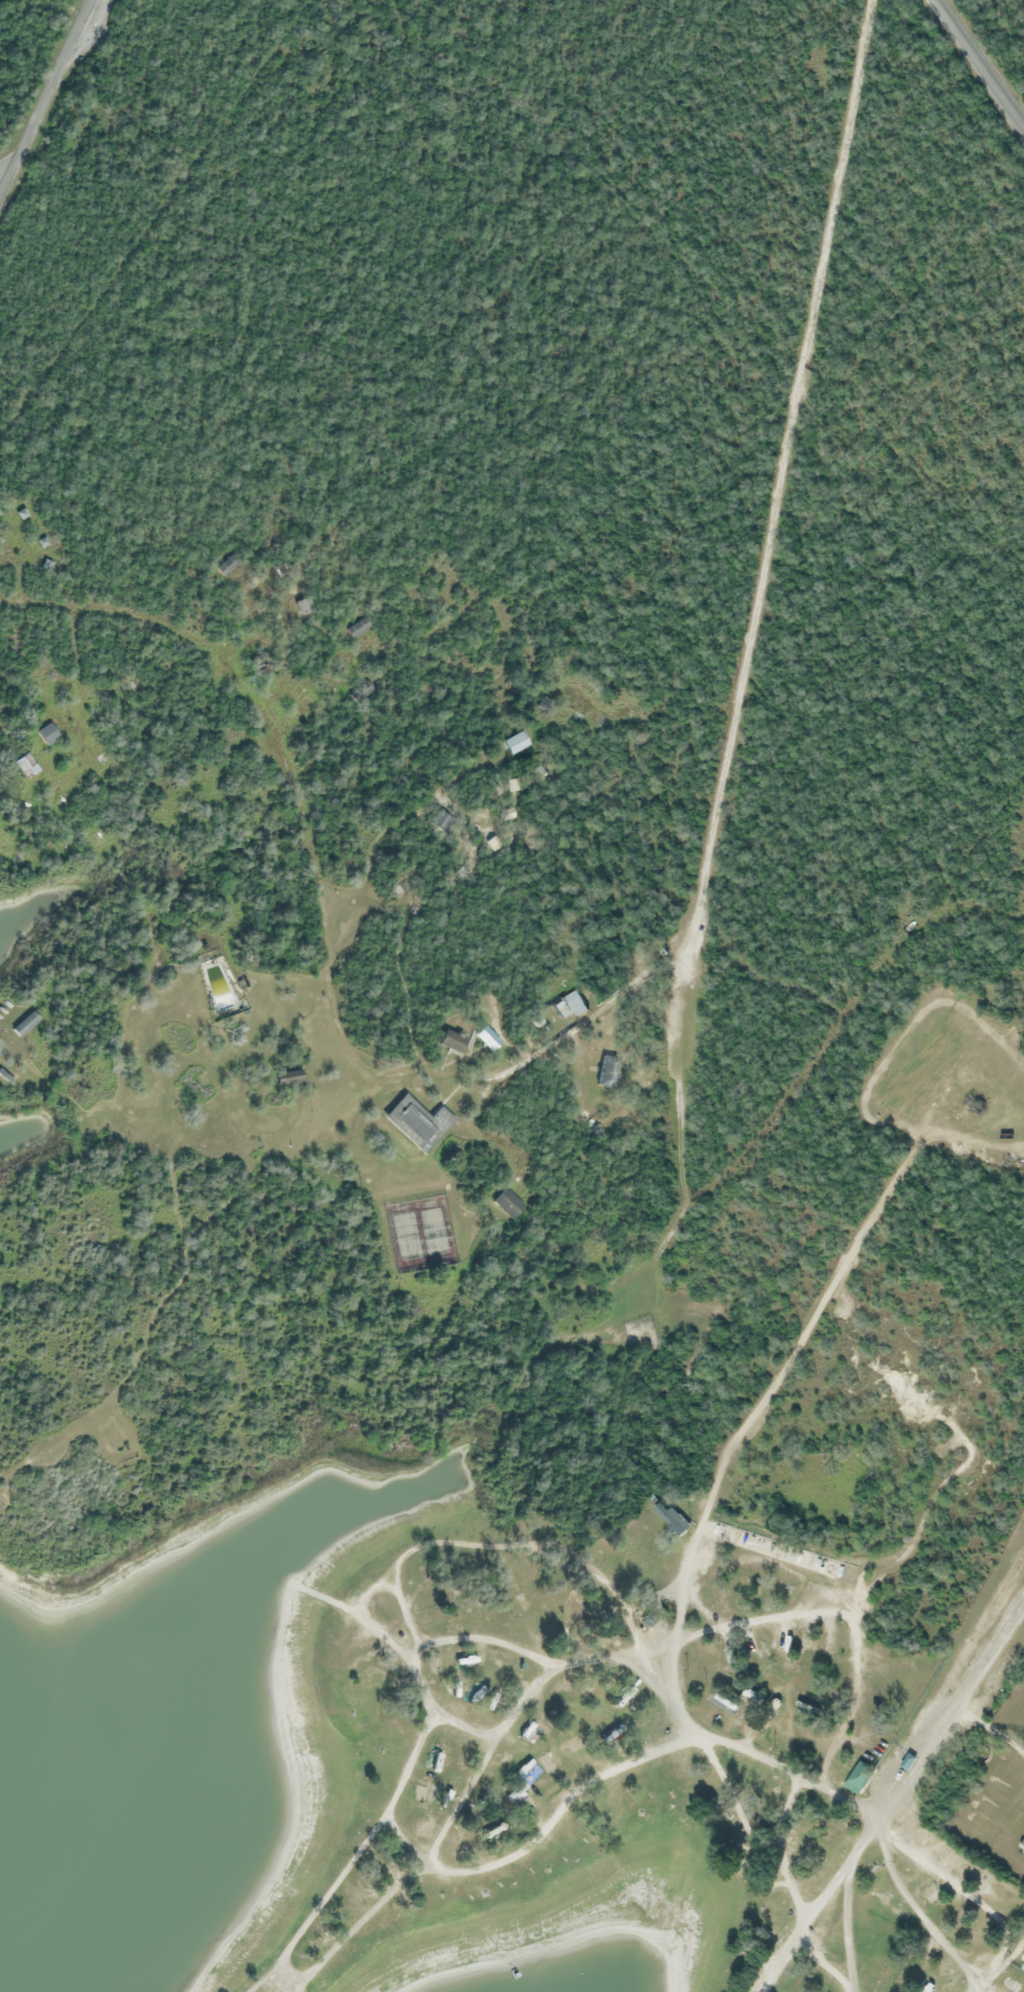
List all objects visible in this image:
road: (89, 32)
road: (980, 63)
road: (44, 95)
park: (102, 148)
road: (3, 175)
park: (818, 183)
road: (777, 480)
building: (301, 608)
building: (354, 629)
building: (44, 735)
building: (512, 743)
building: (23, 766)
park: (995, 886)
road: (322, 939)
building: (217, 984)
building: (568, 1006)
building: (22, 1024)
building: (484, 1039)
building: (449, 1041)
building: (604, 1072)
road: (675, 1079)
building: (284, 1080)
building: (414, 1123)
building: (504, 1203)
building: (670, 1518)
road: (527, 1543)
road: (359, 1593)
building: (549, 1602)
building: (462, 1611)
road: (815, 1615)
road: (424, 1645)
building: (435, 1662)
building: (620, 1697)
road: (952, 1704)
road: (742, 1749)
building: (858, 1778)
building: (989, 1780)
road: (575, 1791)
building: (517, 1793)
building: (976, 1826)
building: (489, 1833)
building: (1021, 1847)
road: (776, 1849)
road: (845, 1896)
road: (912, 1906)
road: (805, 1920)
road: (355, 1926)
building: (1023, 1960)
road: (824, 1963)

